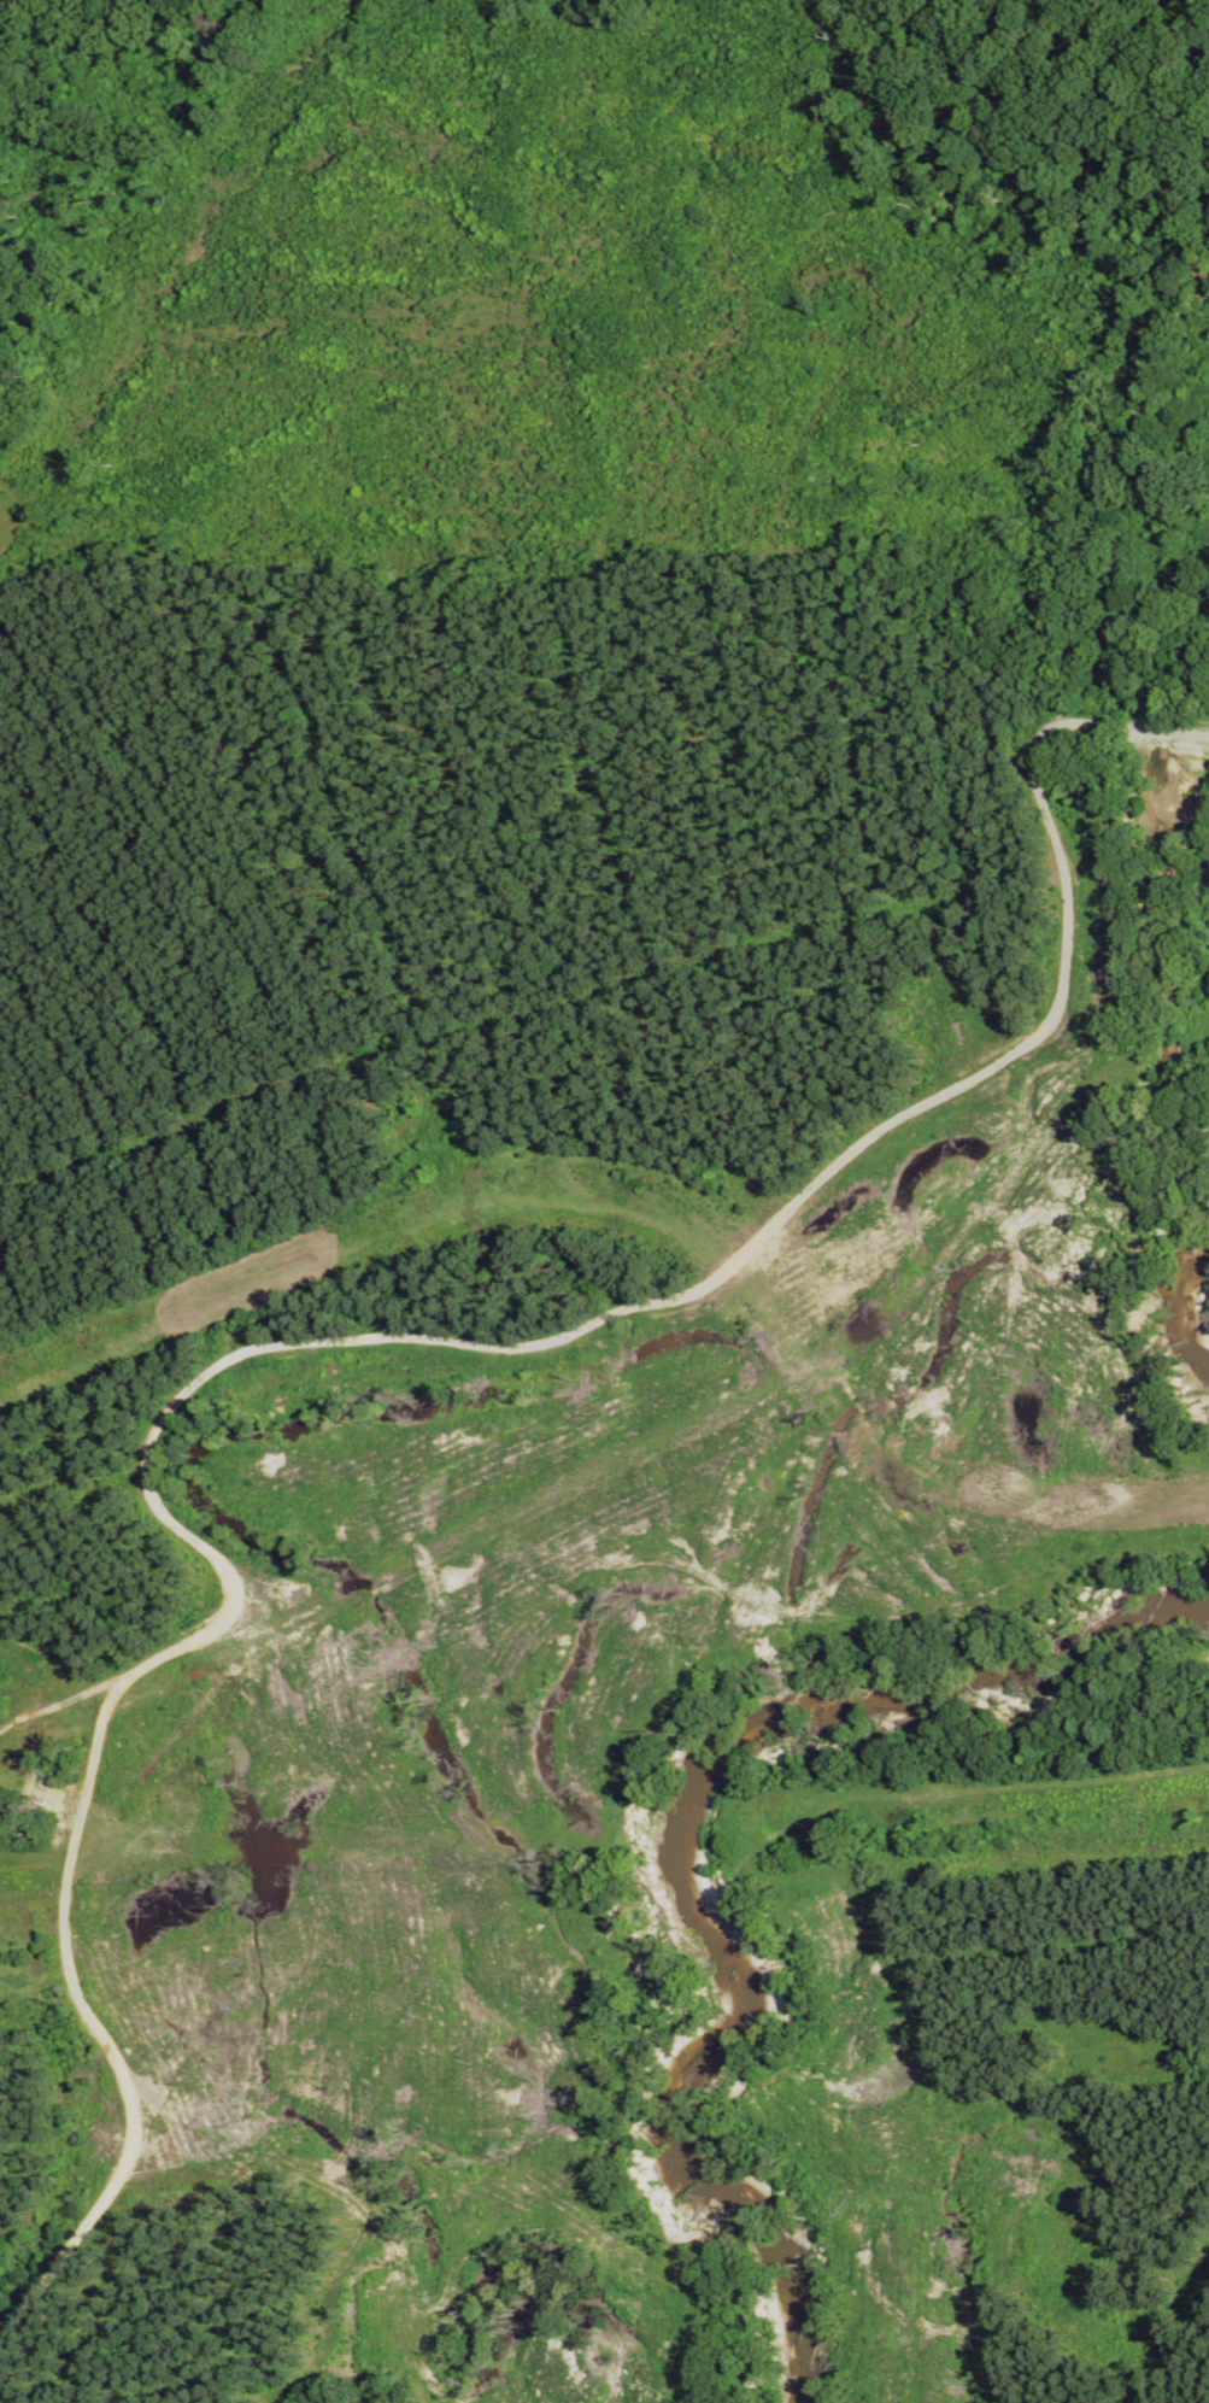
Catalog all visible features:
river: (1205, 1214)
river: (1180, 1299)
river: (687, 1864)
road: (36, 2219)

